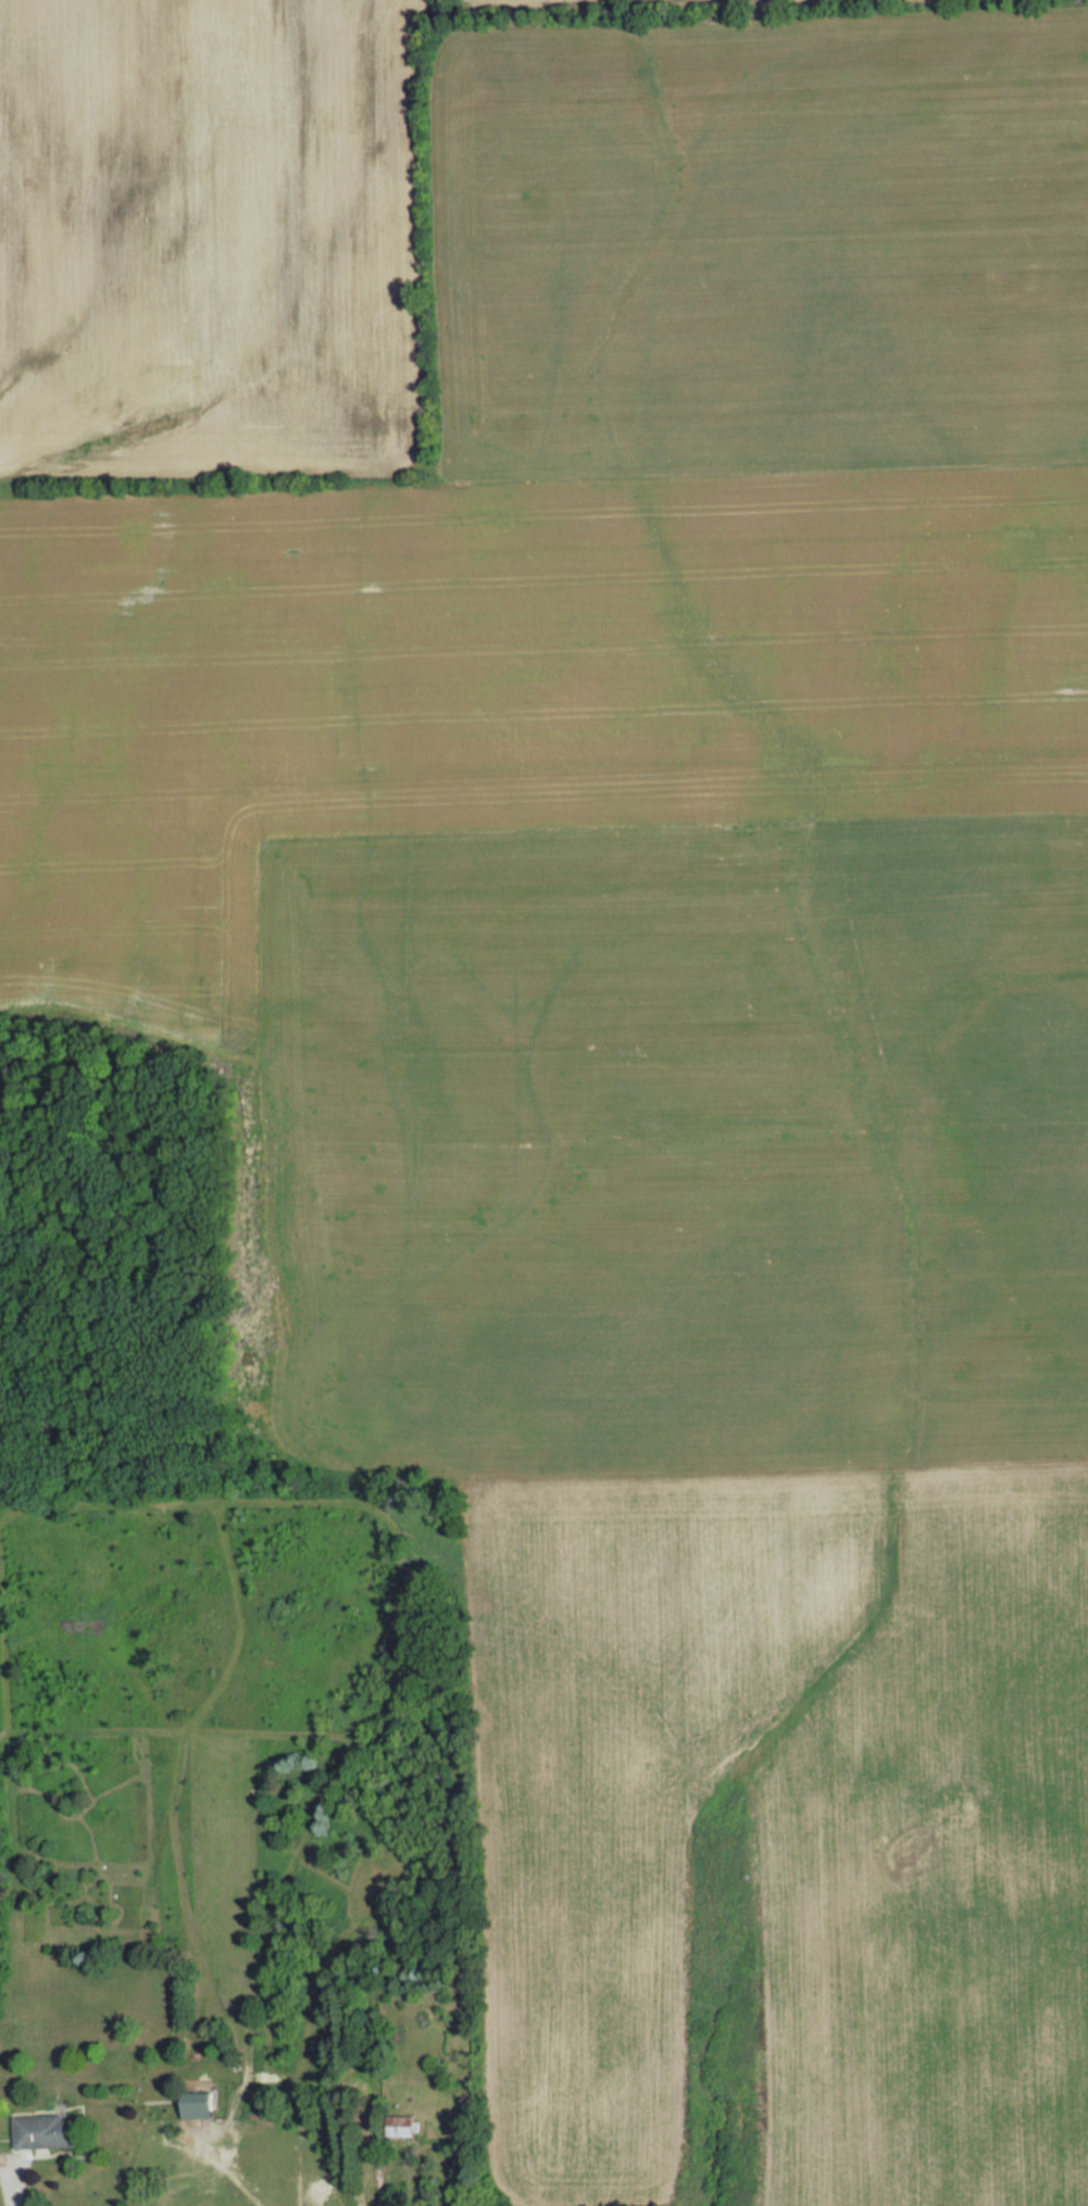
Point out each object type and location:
building: (197, 2104)
building: (400, 2124)
building: (45, 2130)
road: (11, 2197)

